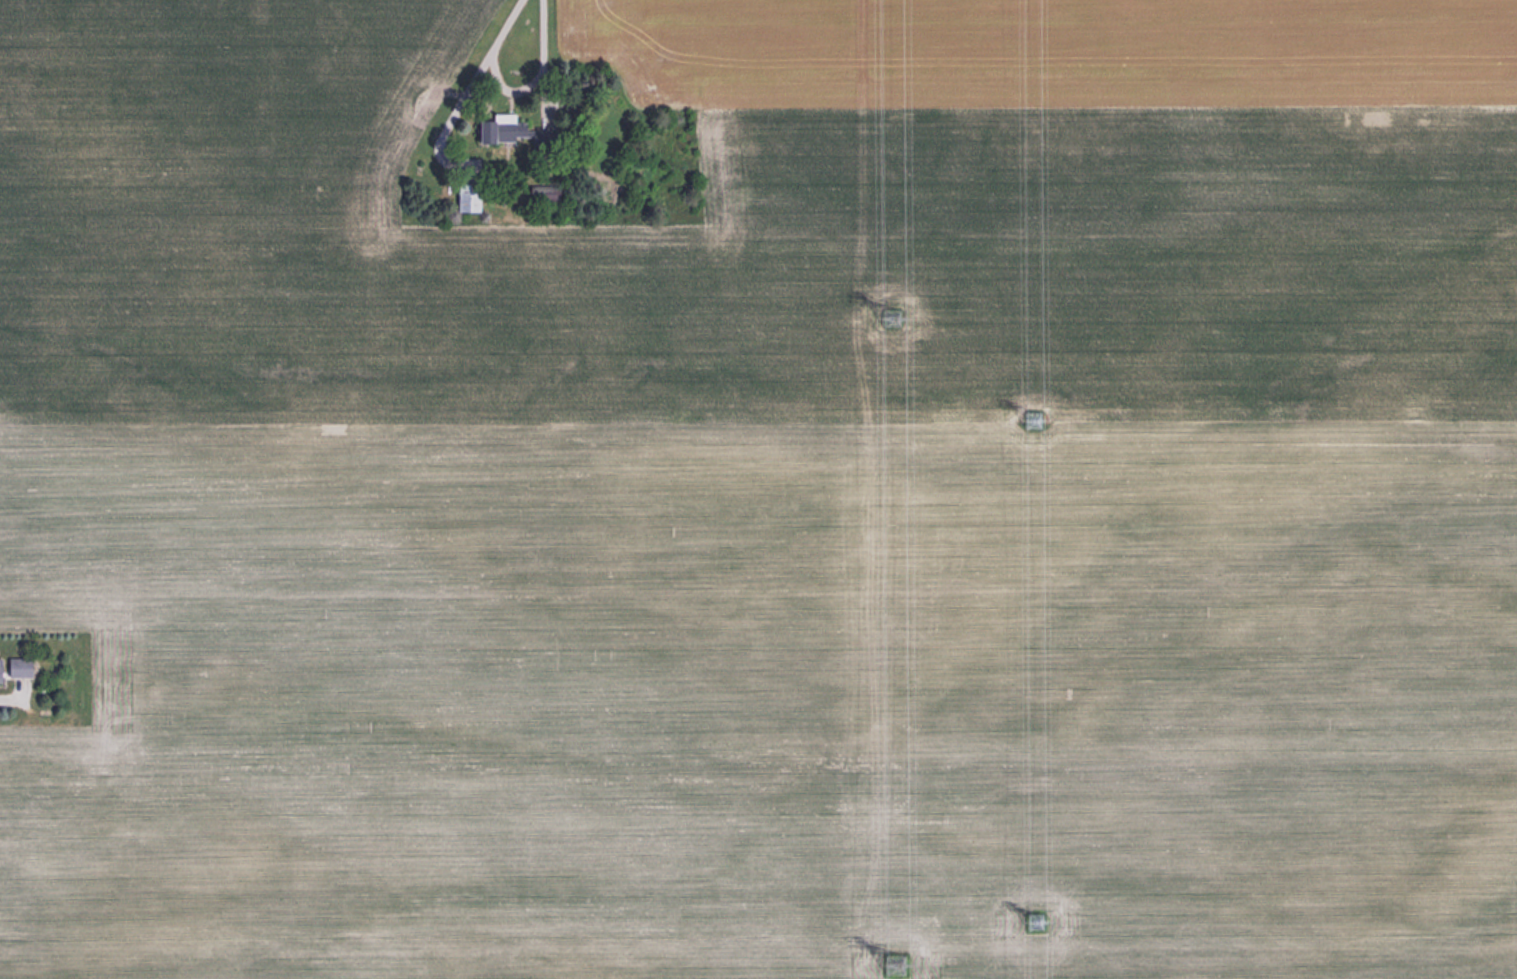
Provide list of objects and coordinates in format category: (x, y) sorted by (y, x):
road: (543, 64)
building: (498, 129)
building: (542, 193)
building: (465, 196)
power tower: (891, 319)
power tower: (1029, 418)
building: (17, 667)
power tower: (1035, 920)
power tower: (894, 965)

